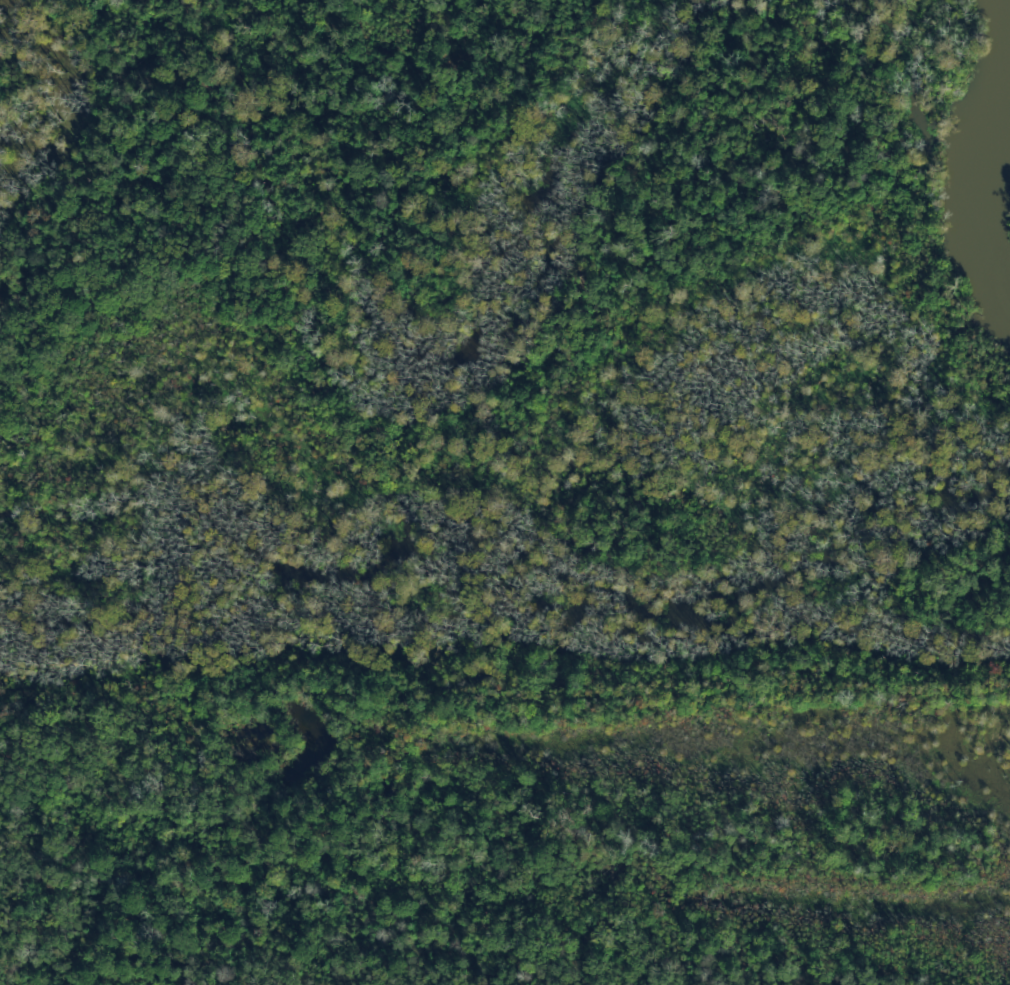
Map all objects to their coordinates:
river: (988, 197)

